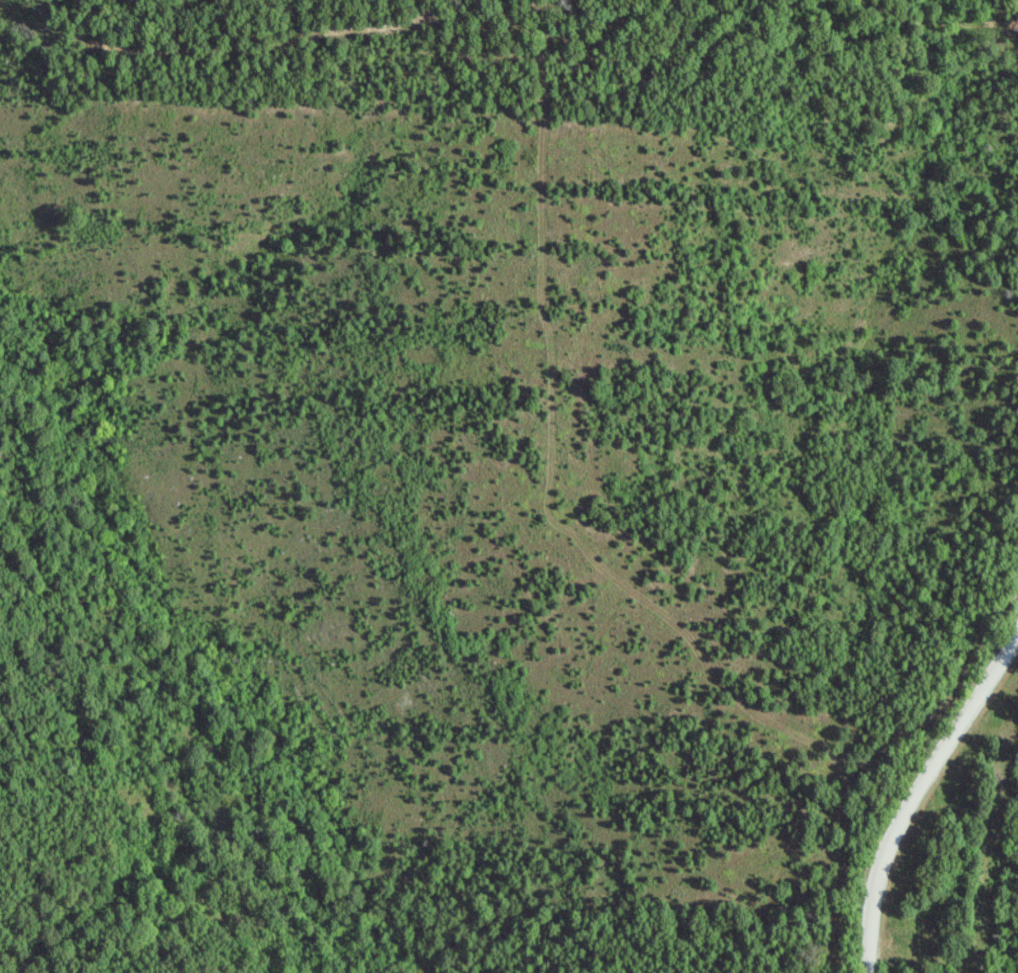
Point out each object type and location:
road: (928, 806)

